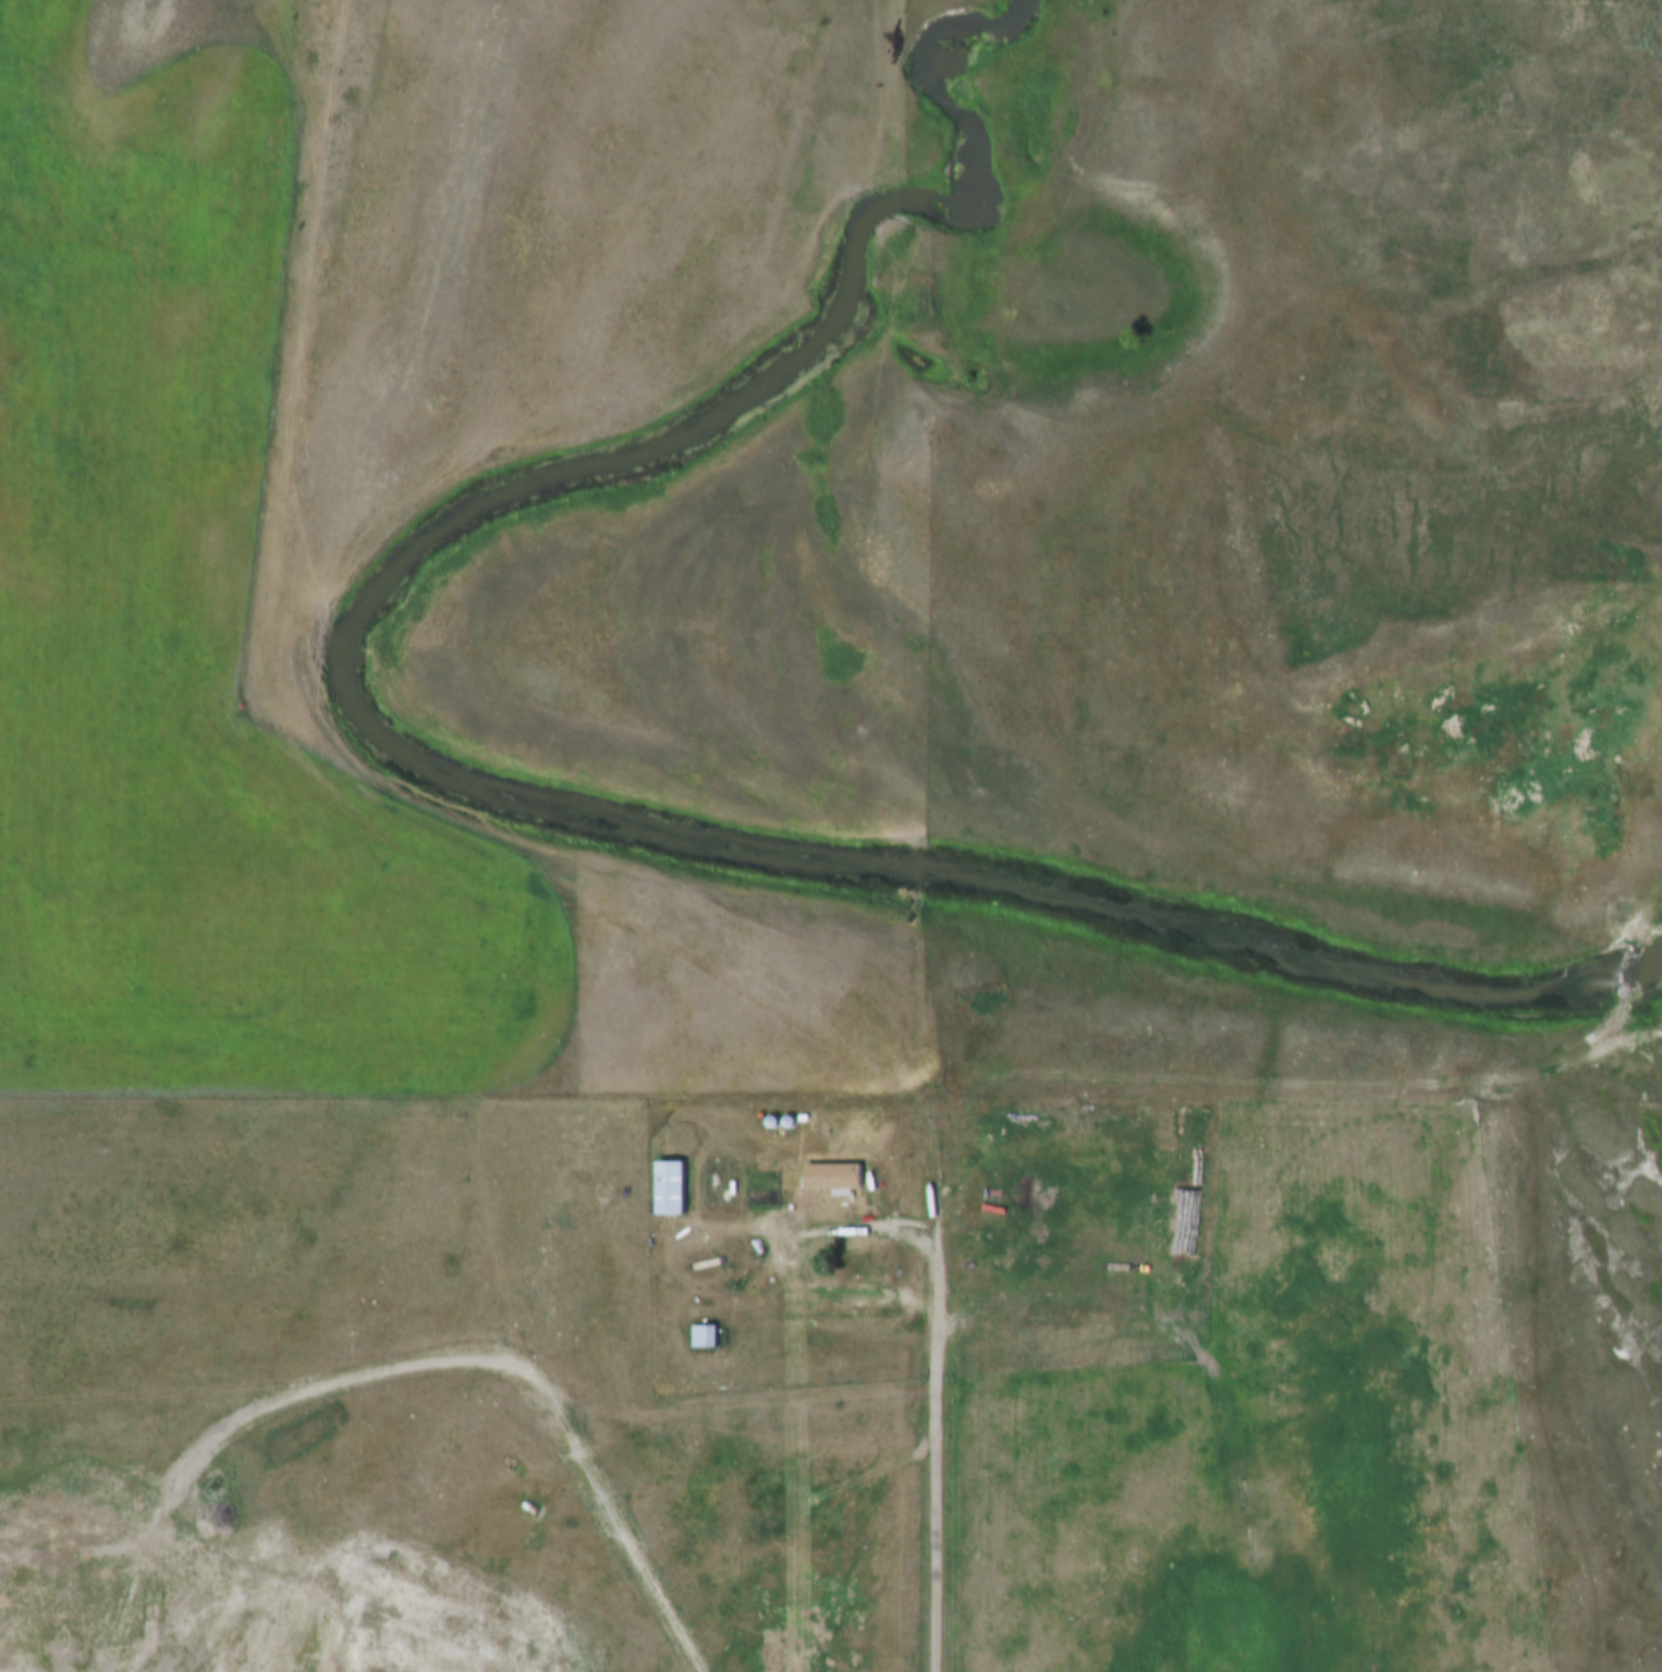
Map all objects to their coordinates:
building: (769, 1119)
silo: (769, 1119)
building: (785, 1119)
silo: (785, 1119)
building: (669, 1182)
road: (940, 1333)
building: (698, 1334)

